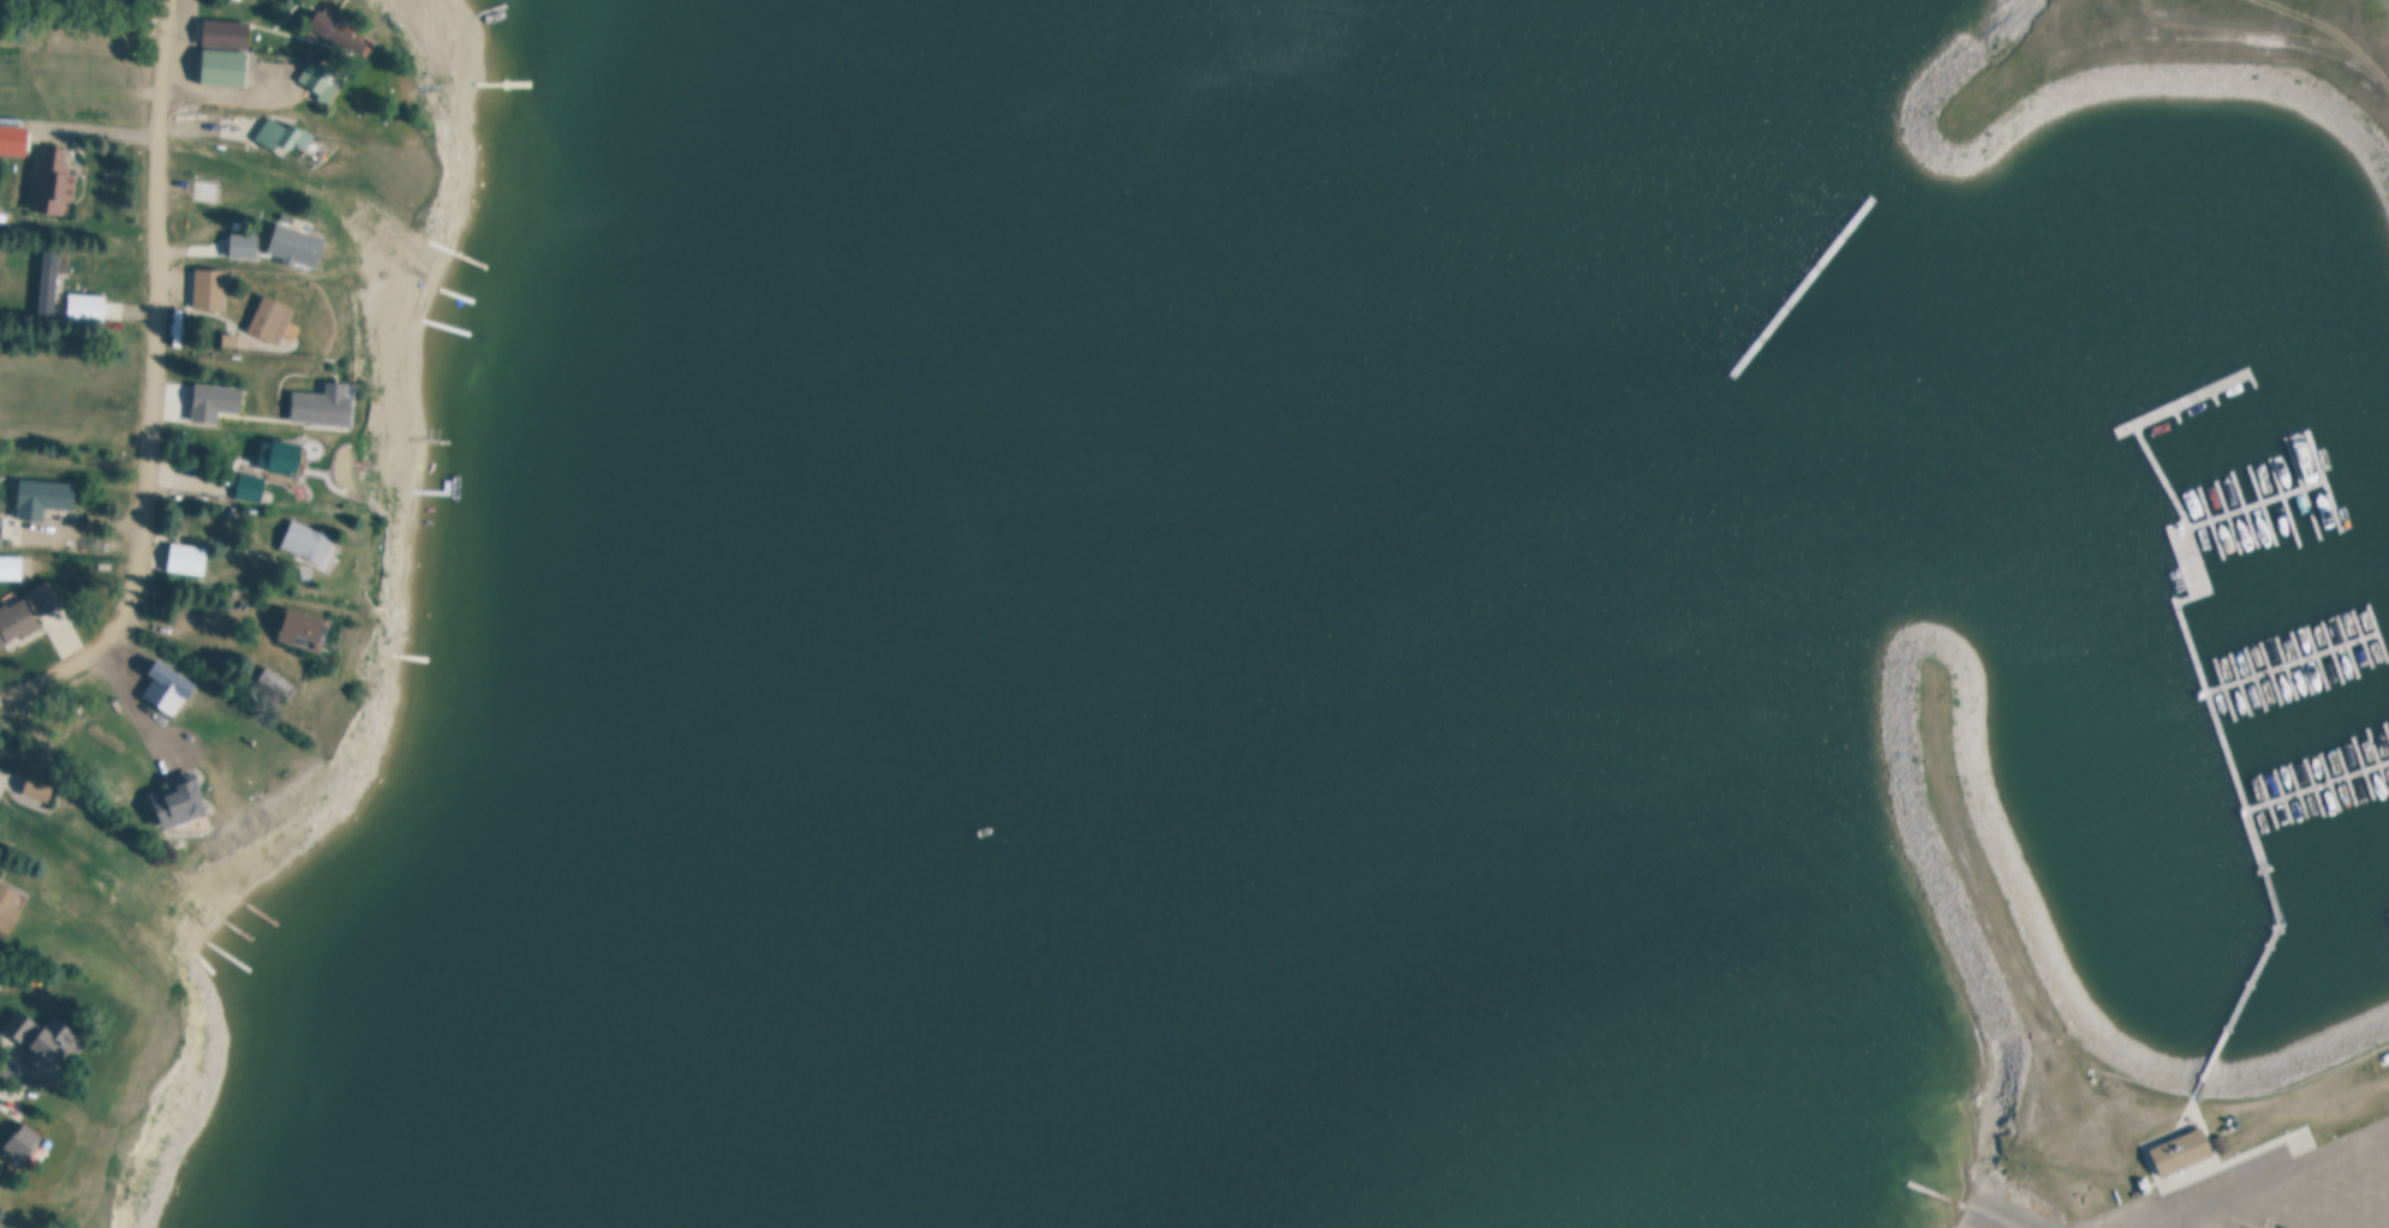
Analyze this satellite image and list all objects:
building: (35, 1)
building: (32, 23)
building: (335, 28)
building: (227, 34)
building: (225, 66)
park: (2151, 70)
building: (323, 77)
building: (13, 131)
building: (283, 133)
building: (53, 181)
building: (207, 190)
building: (298, 244)
building: (49, 282)
building: (213, 288)
building: (88, 306)
building: (274, 316)
building: (232, 339)
road: (165, 387)
building: (216, 400)
building: (328, 403)
pier: (2186, 403)
pier: (2211, 403)
pier: (2172, 418)
building: (285, 453)
road: (193, 478)
pier: (2322, 481)
building: (252, 485)
pier: (2299, 487)
building: (44, 496)
pier: (2253, 503)
pier: (2280, 503)
pier: (2259, 505)
pier: (2240, 509)
pier: (2223, 515)
pier: (2206, 521)
building: (1, 527)
building: (310, 540)
building: (189, 558)
building: (11, 567)
building: (306, 574)
building: (28, 612)
building: (303, 624)
pier: (2377, 633)
pier: (2363, 637)
pier: (2346, 646)
pier: (2331, 651)
pier: (2316, 657)
pier: (2292, 661)
pier: (2303, 661)
pier: (2286, 667)
pier: (2271, 672)
pier: (2256, 678)
building: (275, 682)
pier: (2240, 683)
pier: (2226, 688)
pier: (2388, 733)
pier: (2224, 738)
pier: (2377, 765)
pier: (2363, 769)
pier: (2345, 778)
pier: (2329, 781)
pier: (2315, 786)
pier: (2319, 786)
building: (38, 789)
pier: (2299, 790)
pier: (2285, 795)
building: (154, 796)
building: (181, 798)
pier: (2270, 798)
park: (1961, 833)
building: (8, 907)
building: (23, 1023)
building: (58, 1041)
building: (2385, 1060)
building: (24, 1139)
building: (2181, 1151)
road: (2270, 1179)
parking lot: (2280, 1191)
pier: (1995, 1218)
road: (2367, 1218)

